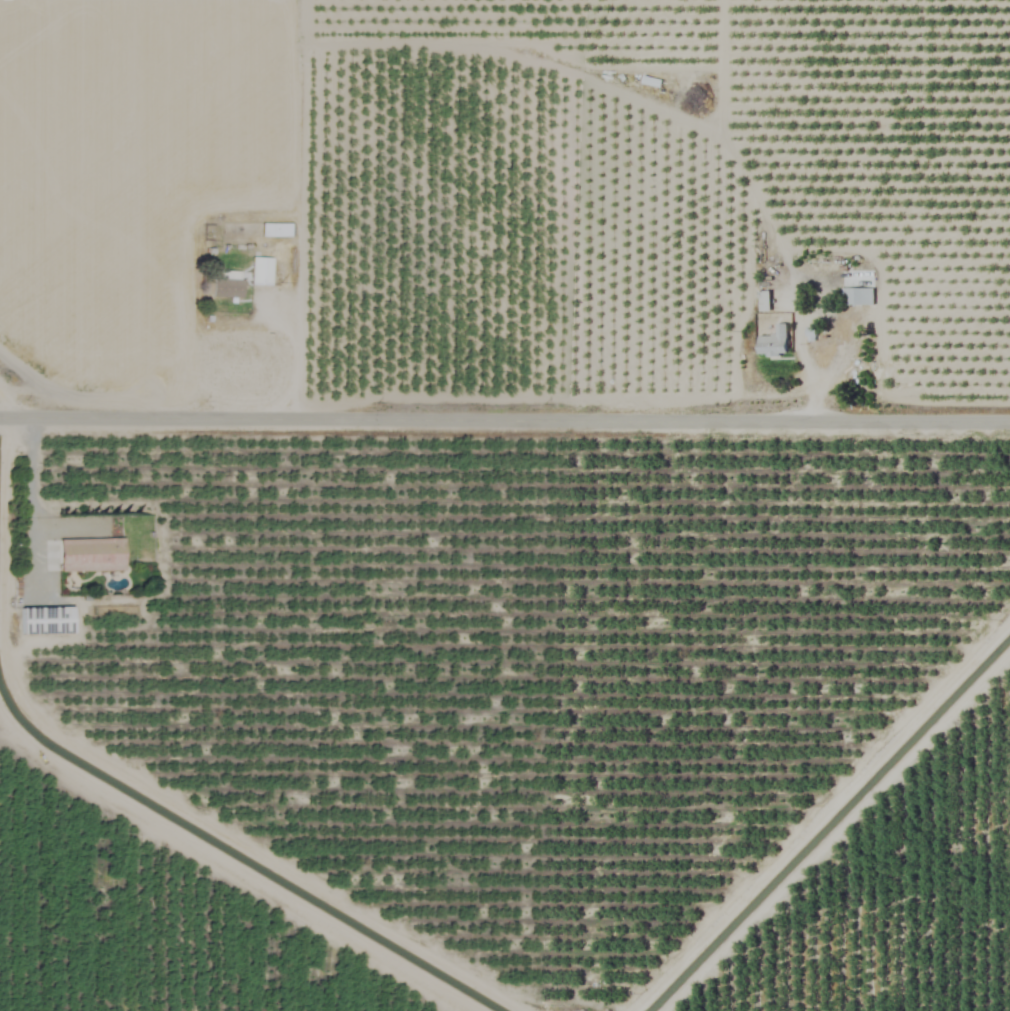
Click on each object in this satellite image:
building: (274, 230)
building: (259, 271)
building: (225, 285)
building: (763, 301)
building: (773, 342)
road: (298, 368)
road: (504, 425)
crop: (505, 505)
road: (33, 506)
building: (91, 555)

